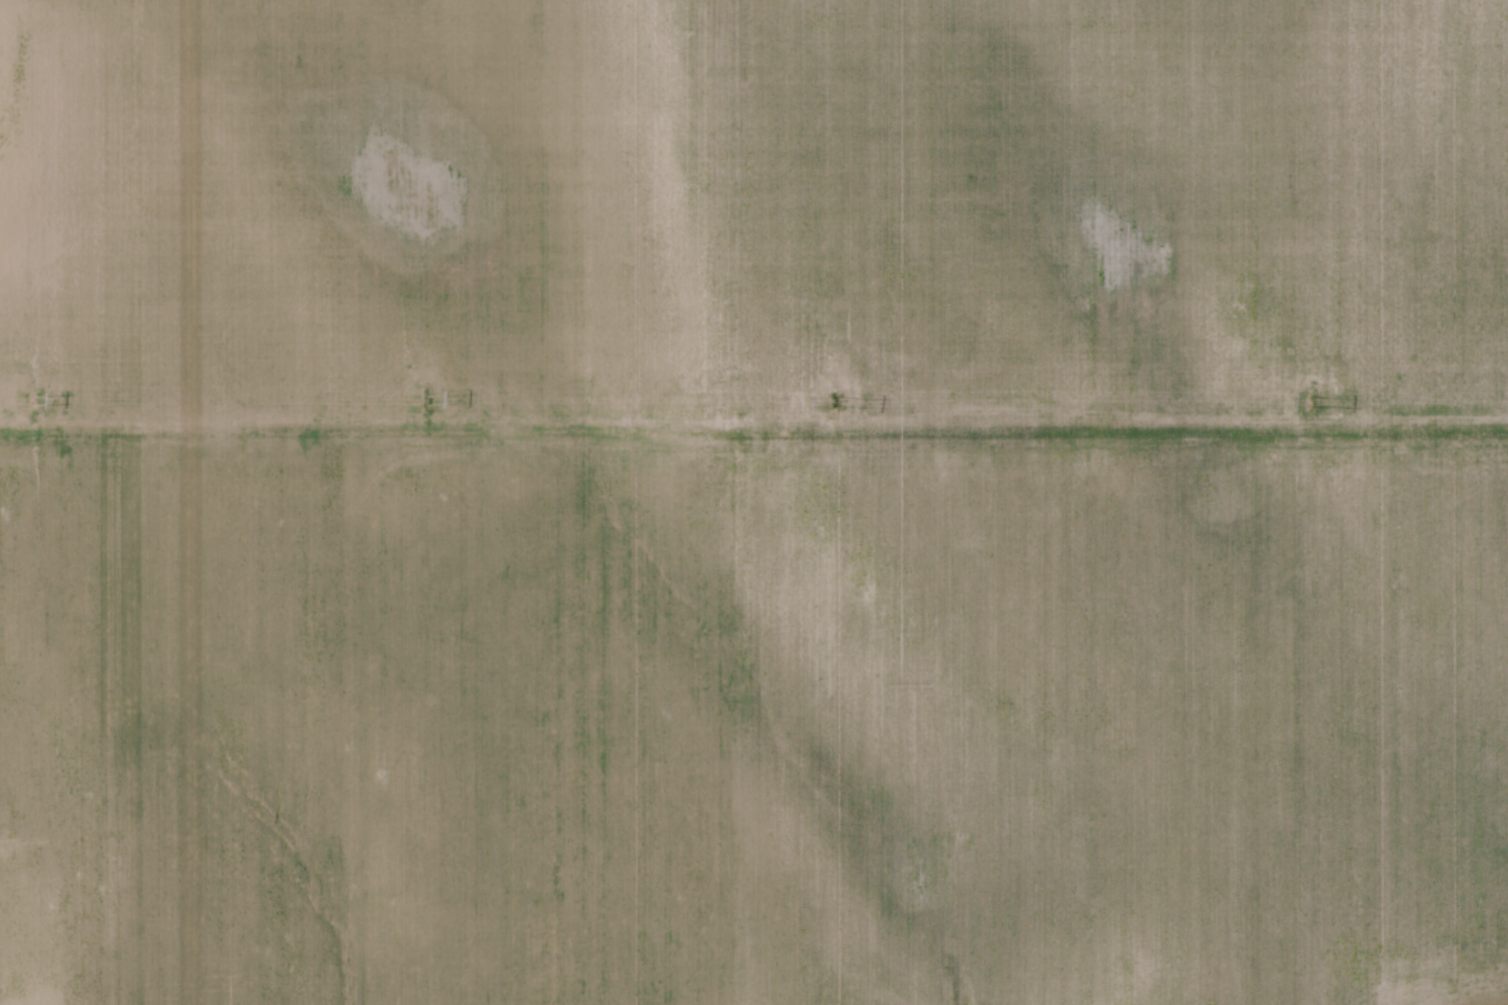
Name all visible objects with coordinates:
power tower: (34, 400)
power tower: (430, 401)
power tower: (835, 402)
power tower: (1316, 403)

